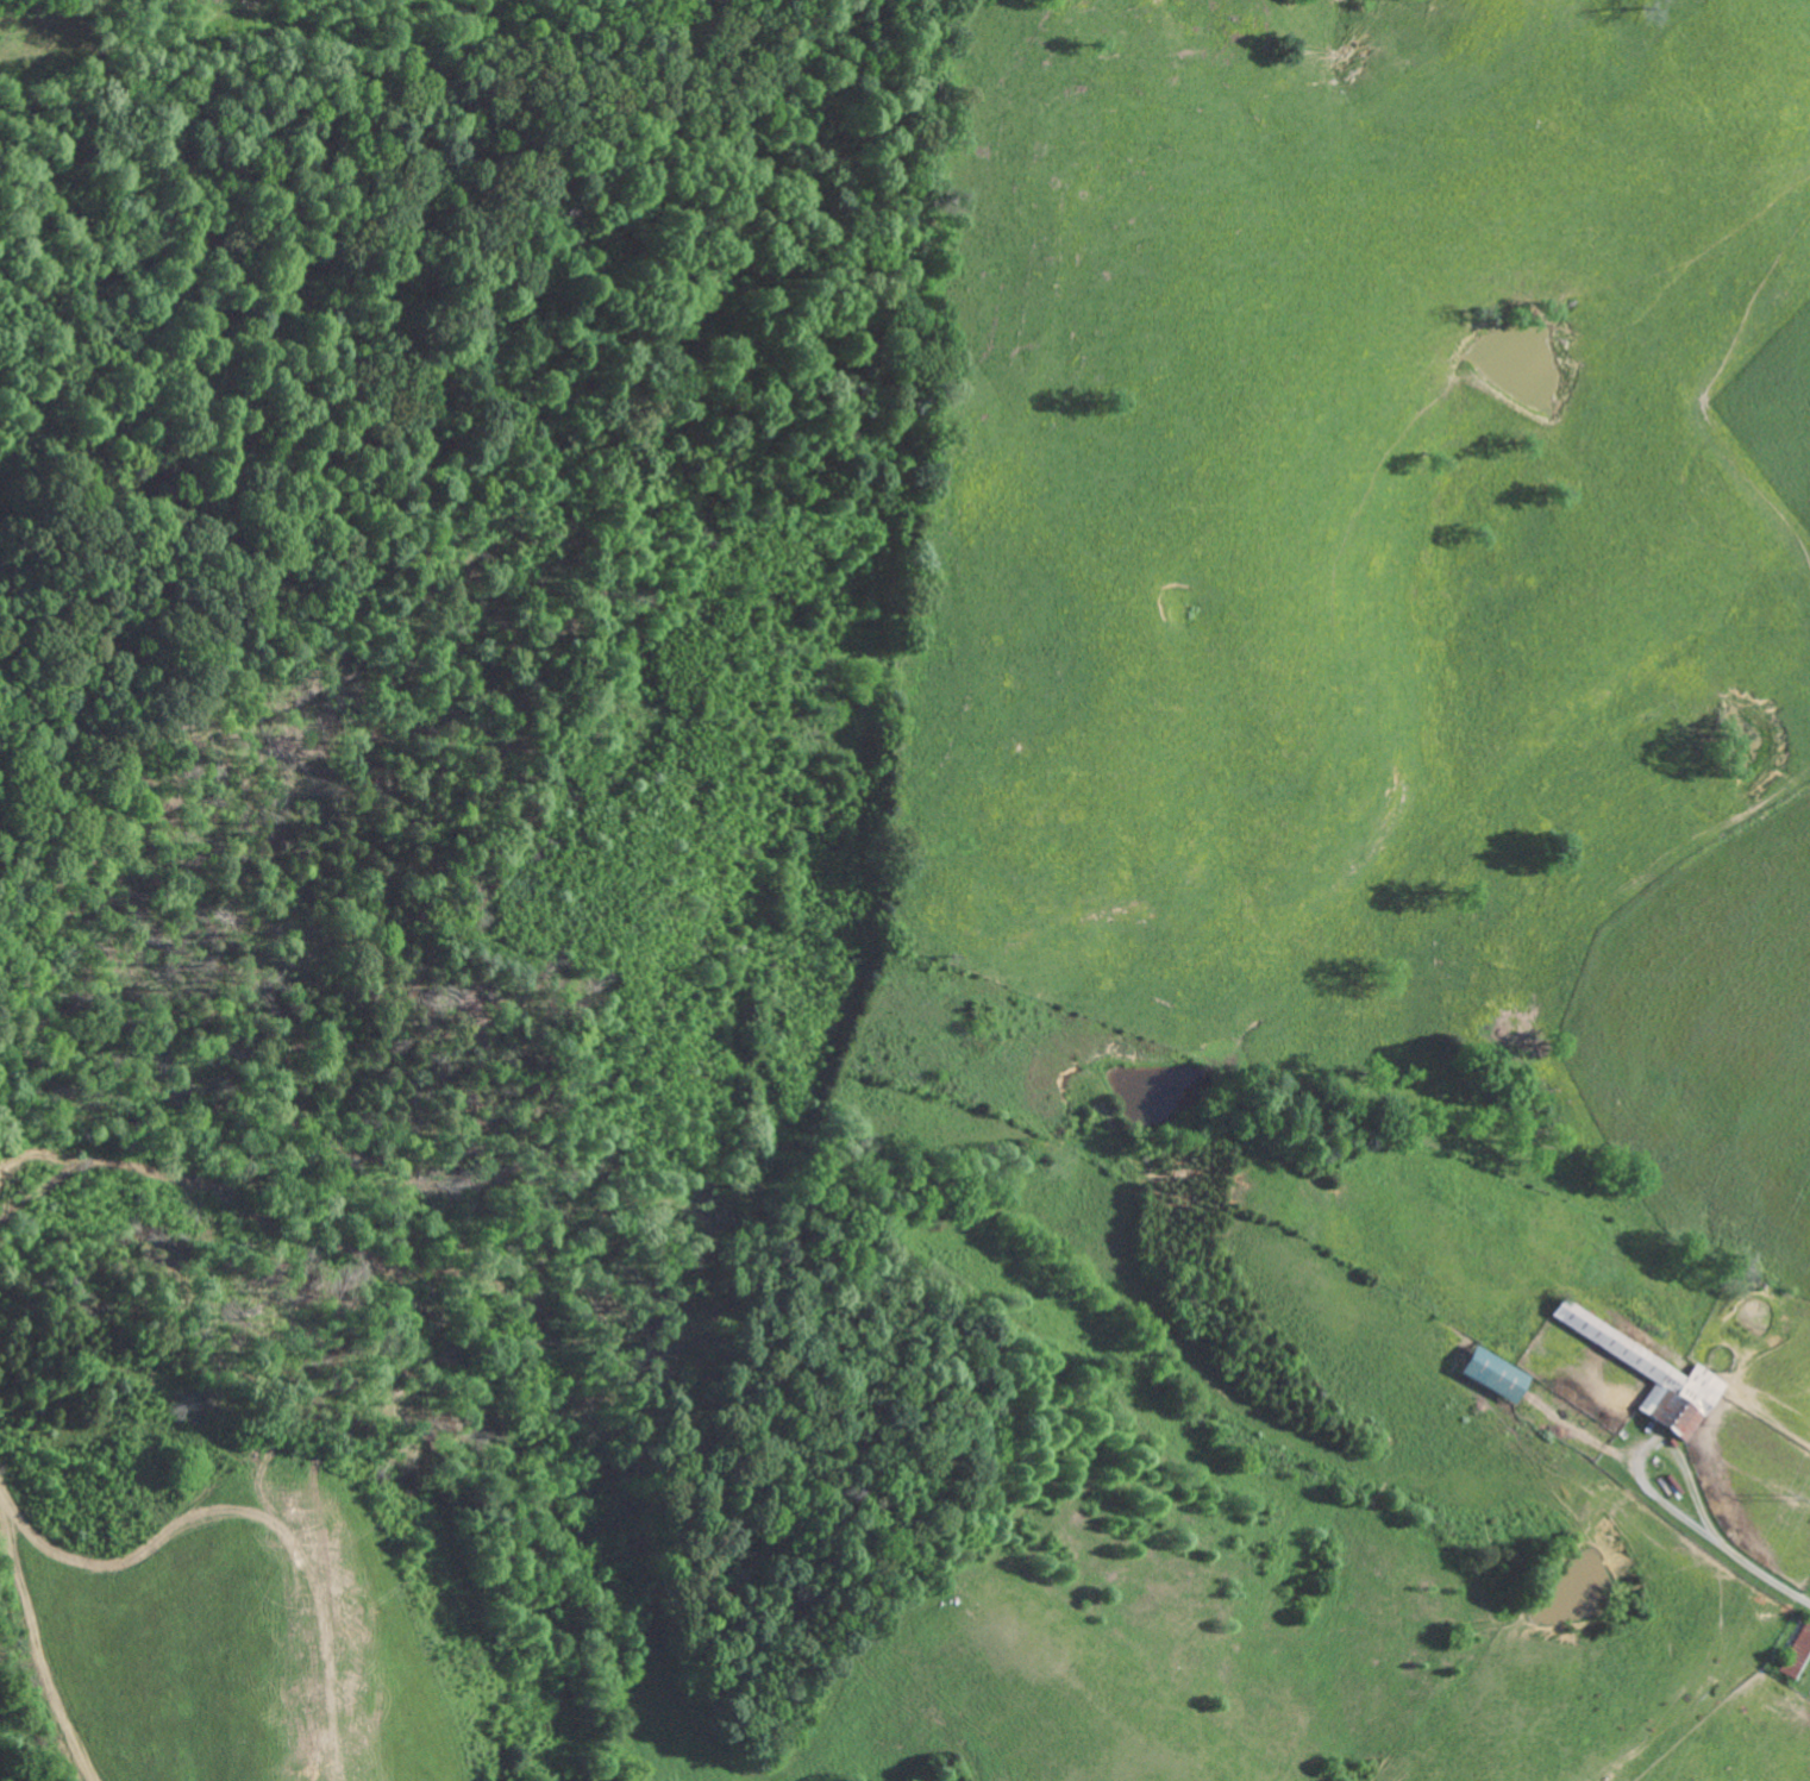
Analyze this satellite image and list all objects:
building: (1501, 1374)
building: (1656, 1374)
power tower: (1784, 1494)

